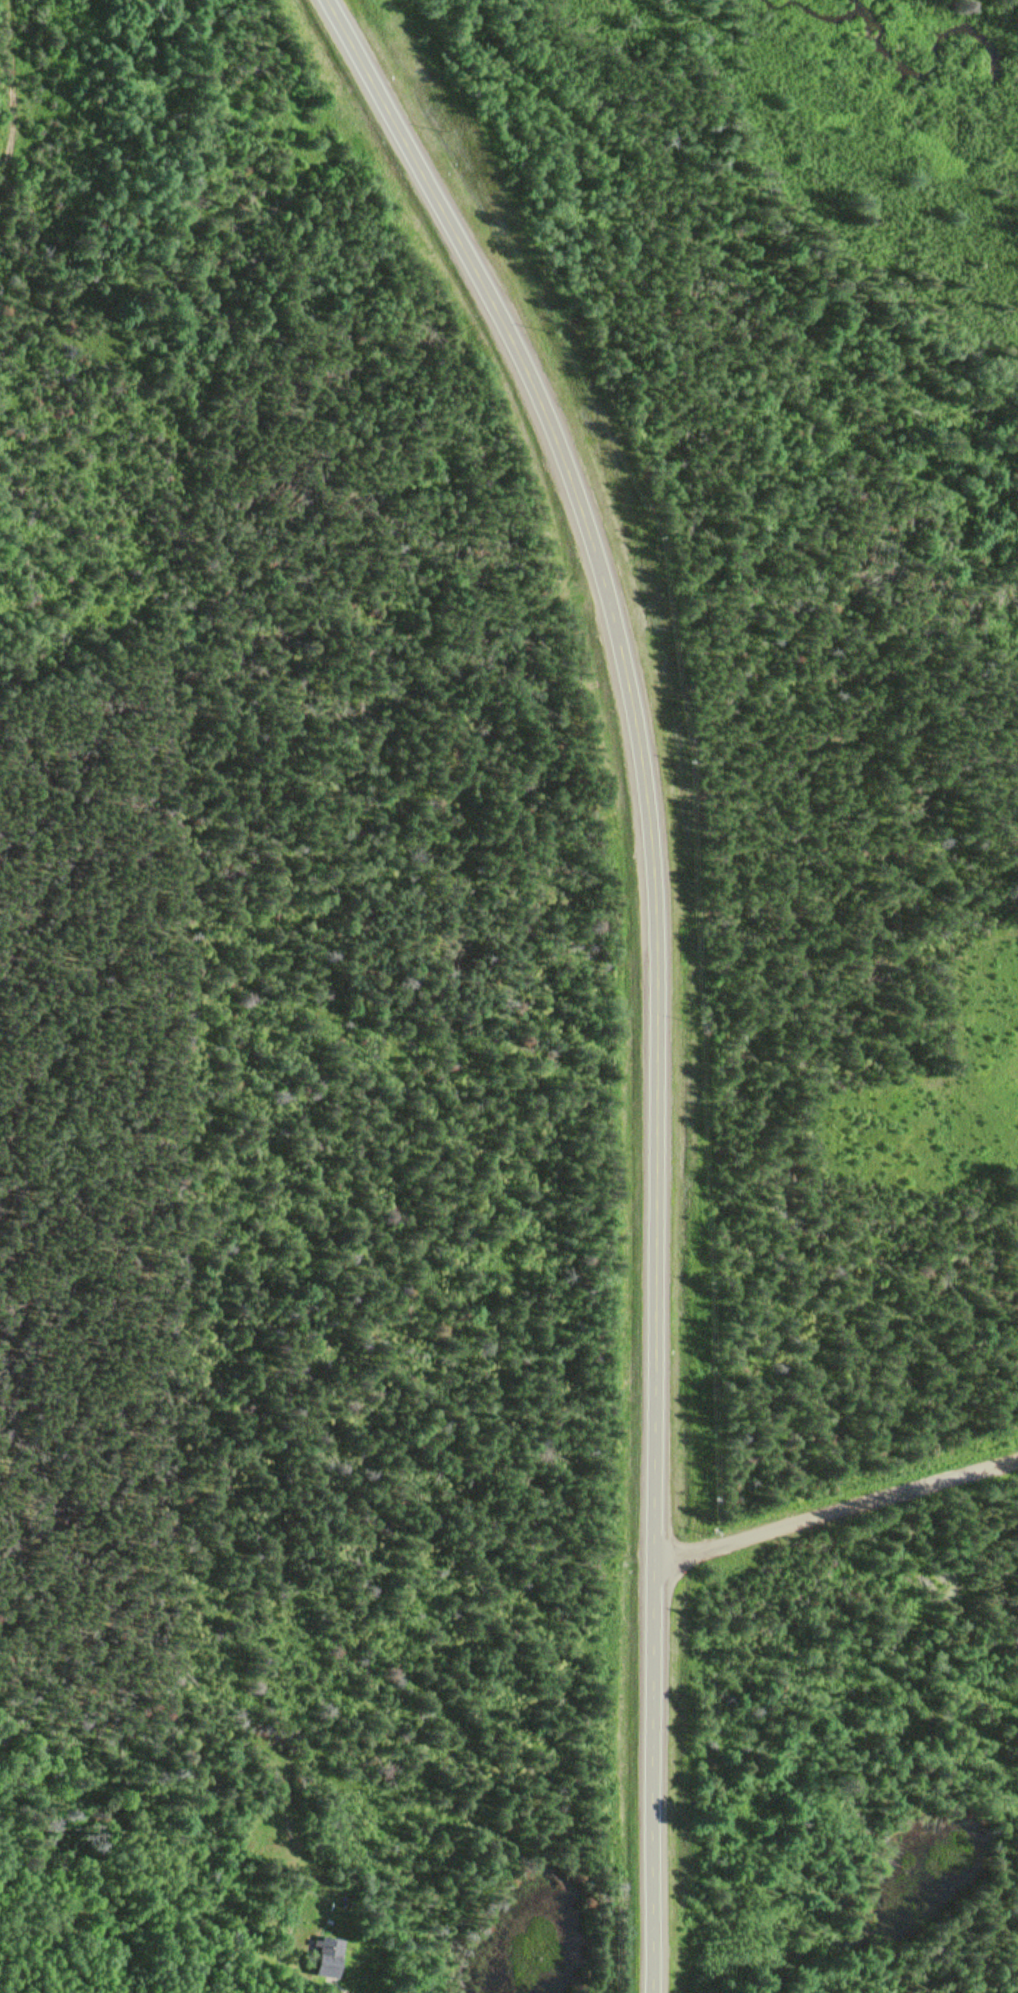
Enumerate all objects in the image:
road: (656, 962)
road: (834, 1513)
building: (324, 1956)

